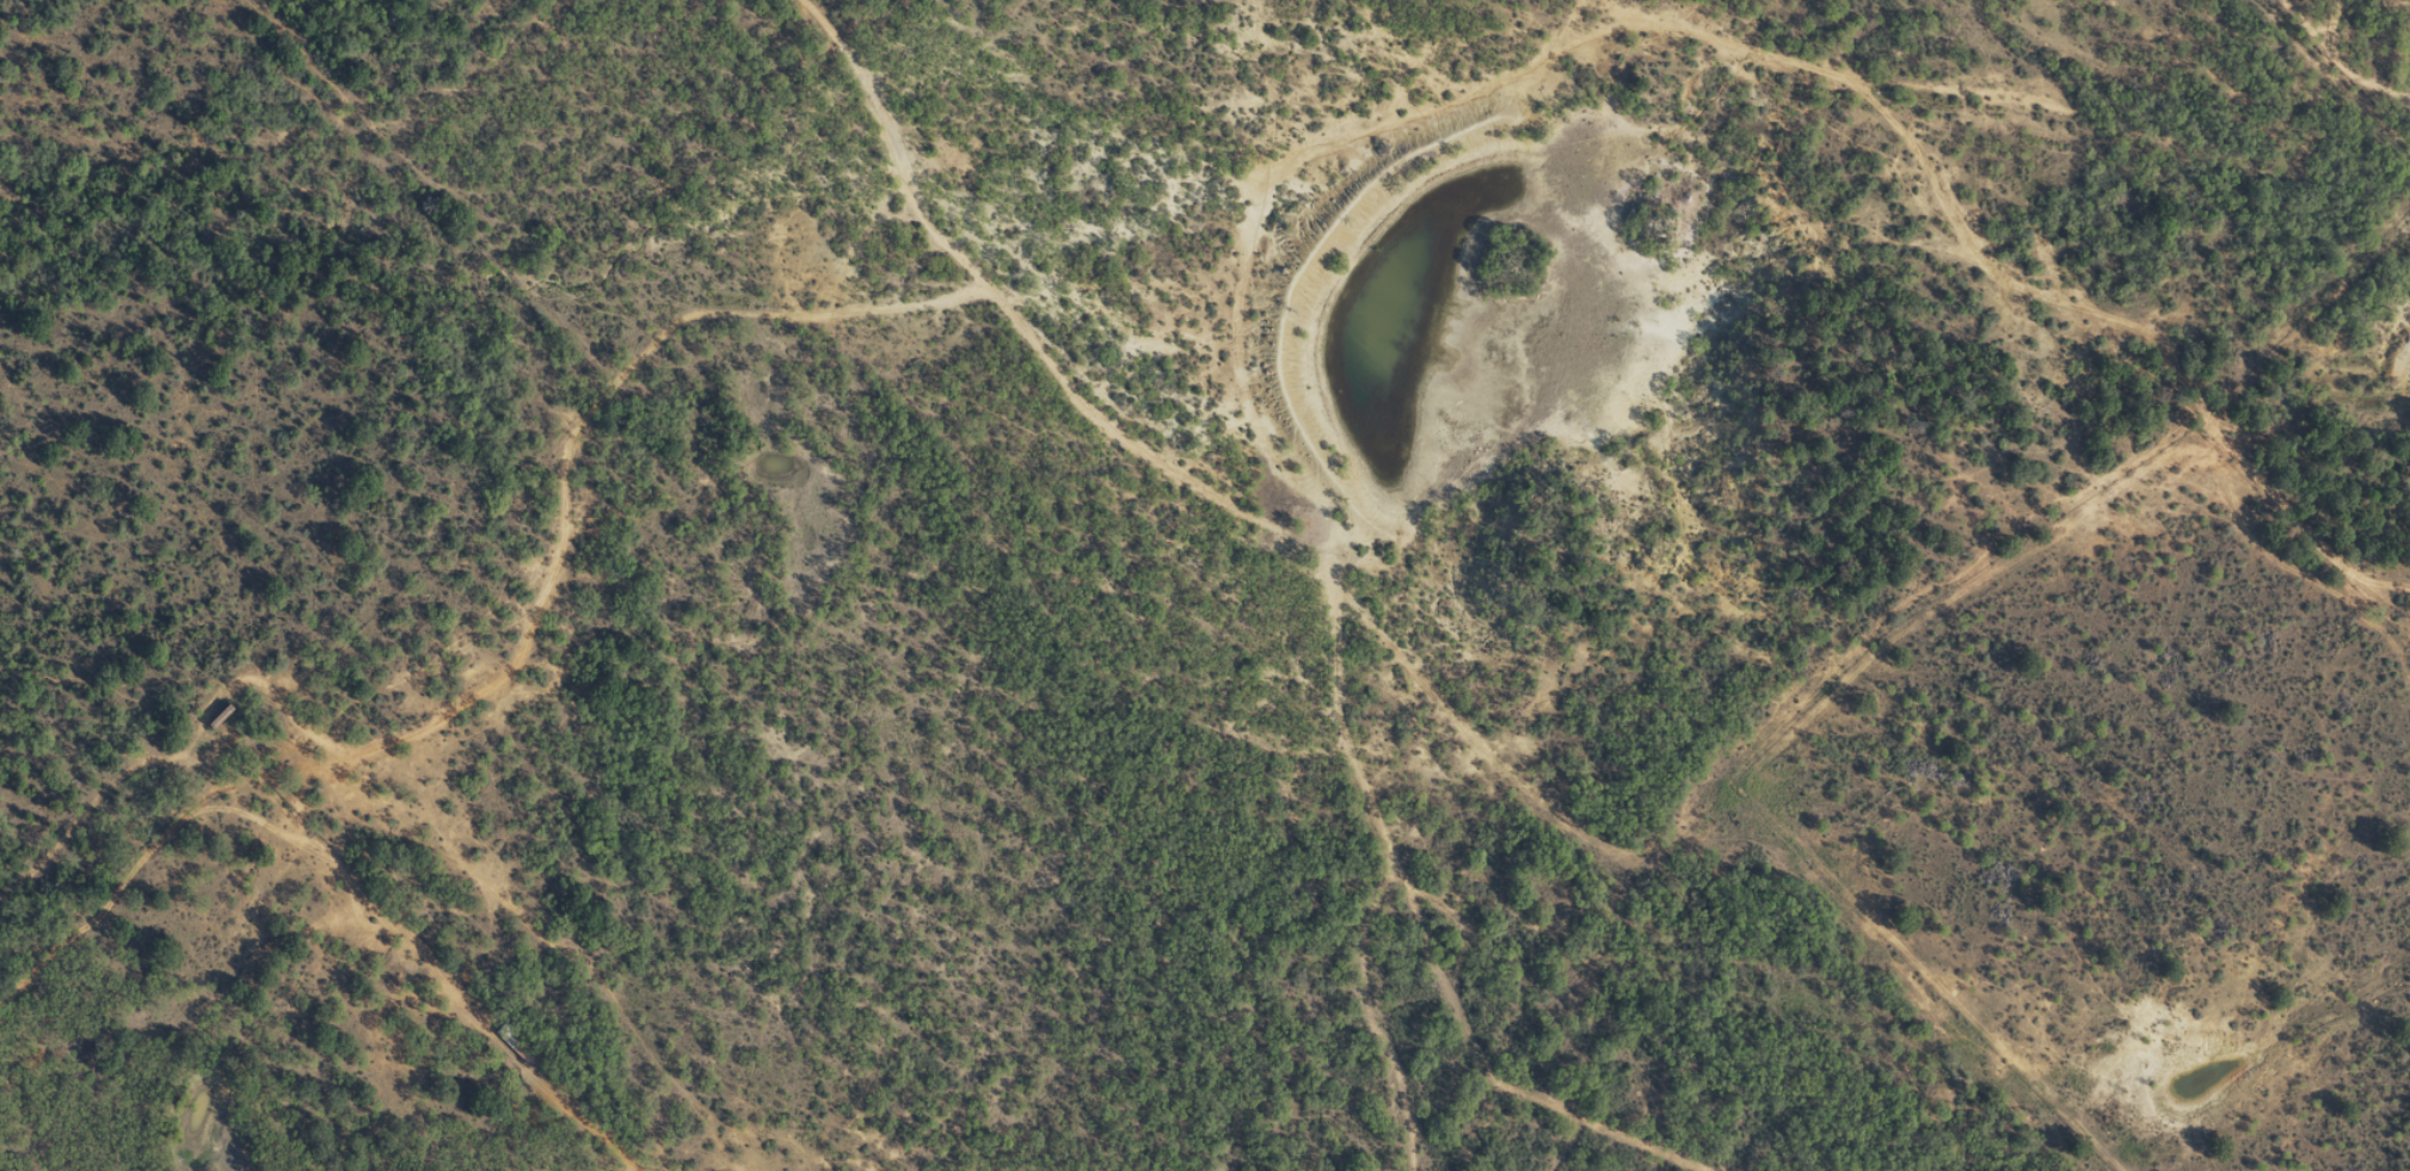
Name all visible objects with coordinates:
road: (947, 112)
road: (1347, 122)
road: (2170, 366)
road: (1348, 634)
building: (516, 1048)

